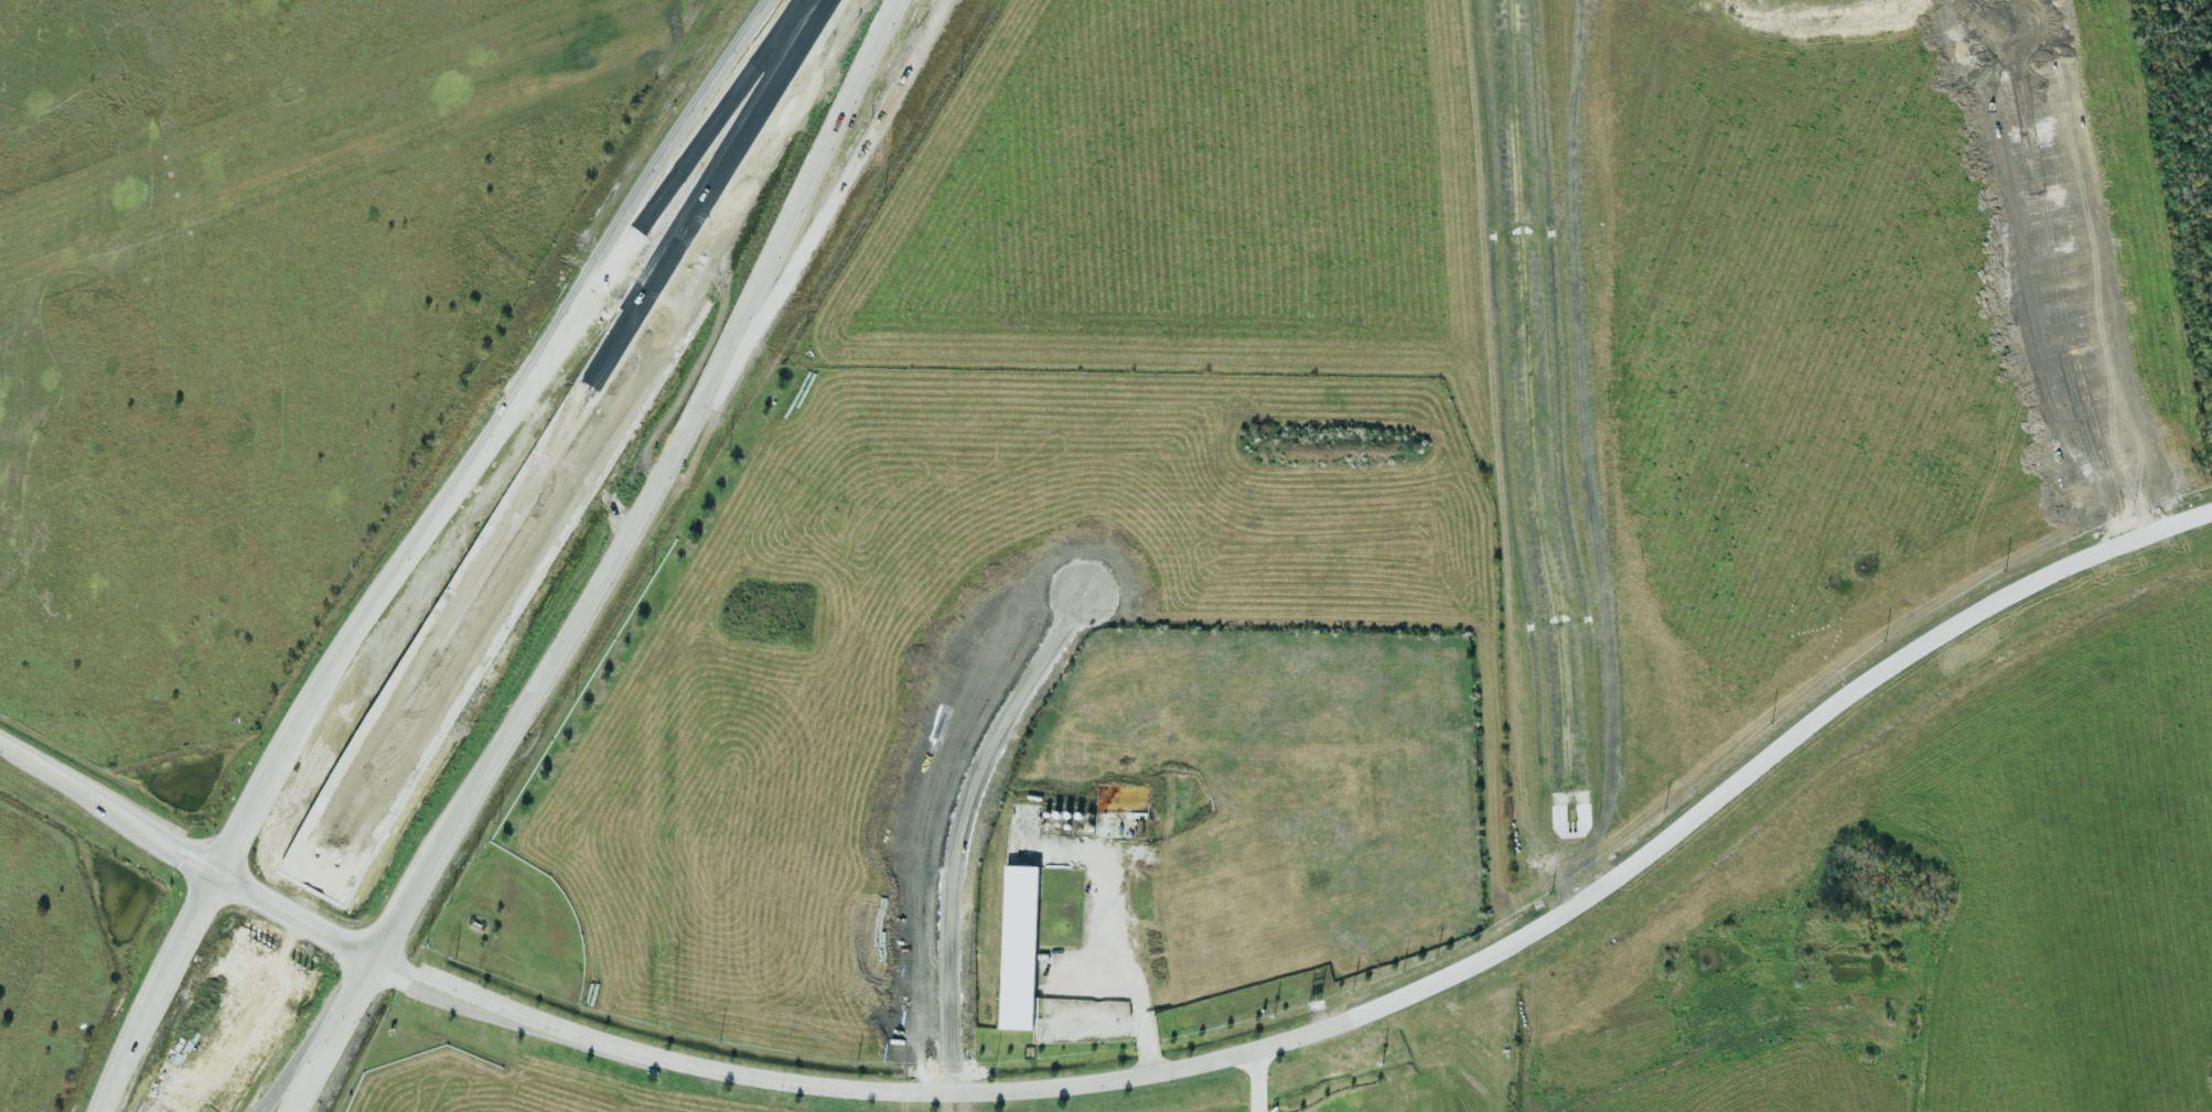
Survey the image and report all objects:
road: (495, 427)
road: (559, 439)
road: (608, 450)
road: (653, 490)
road: (958, 827)
road: (184, 852)
road: (275, 909)
road: (316, 932)
building: (1018, 947)
road: (151, 989)
road: (1350, 1018)
road: (217, 1026)
road: (332, 1036)
road: (264, 1038)
road: (1257, 1081)

